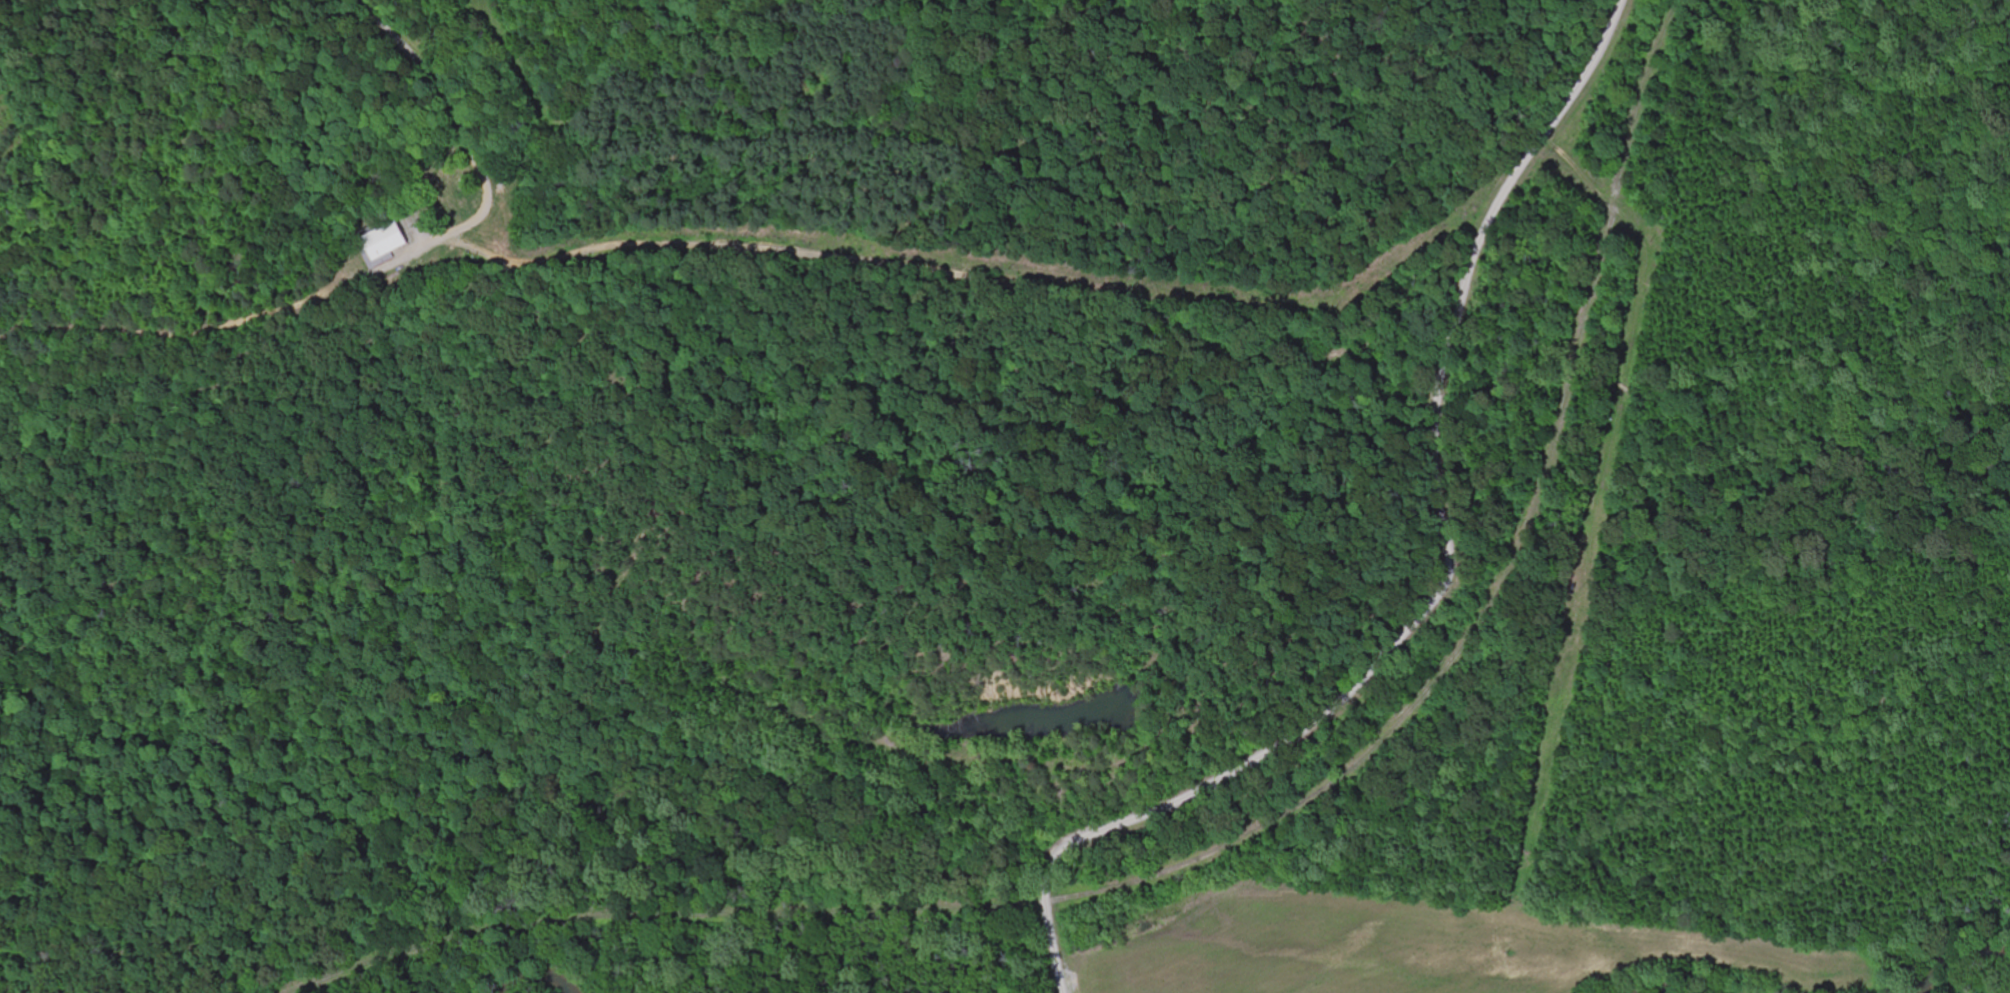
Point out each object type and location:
building: (385, 245)
road: (716, 267)
road: (1445, 577)

